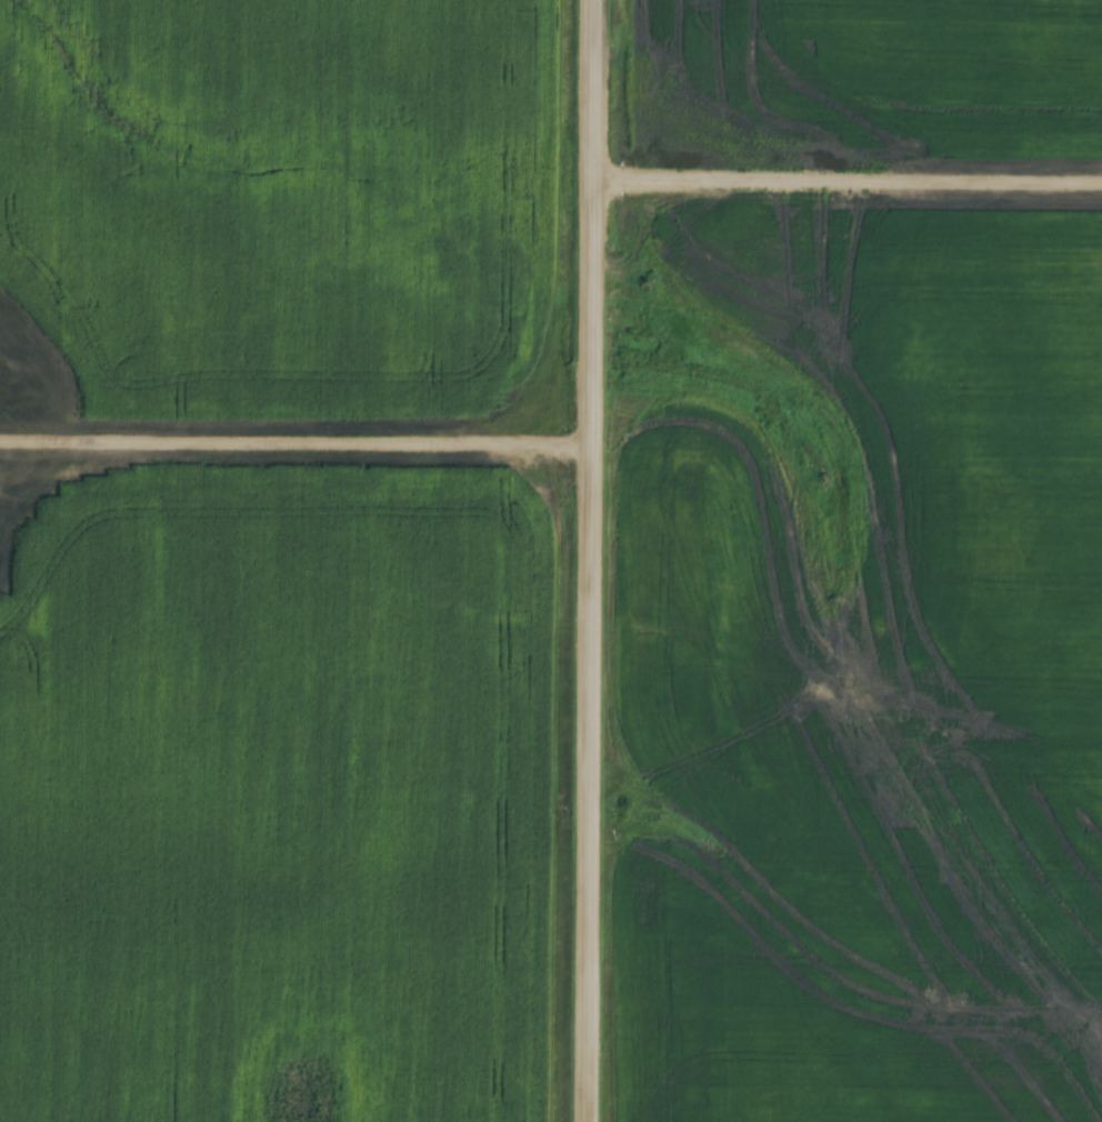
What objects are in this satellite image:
road: (595, 561)

